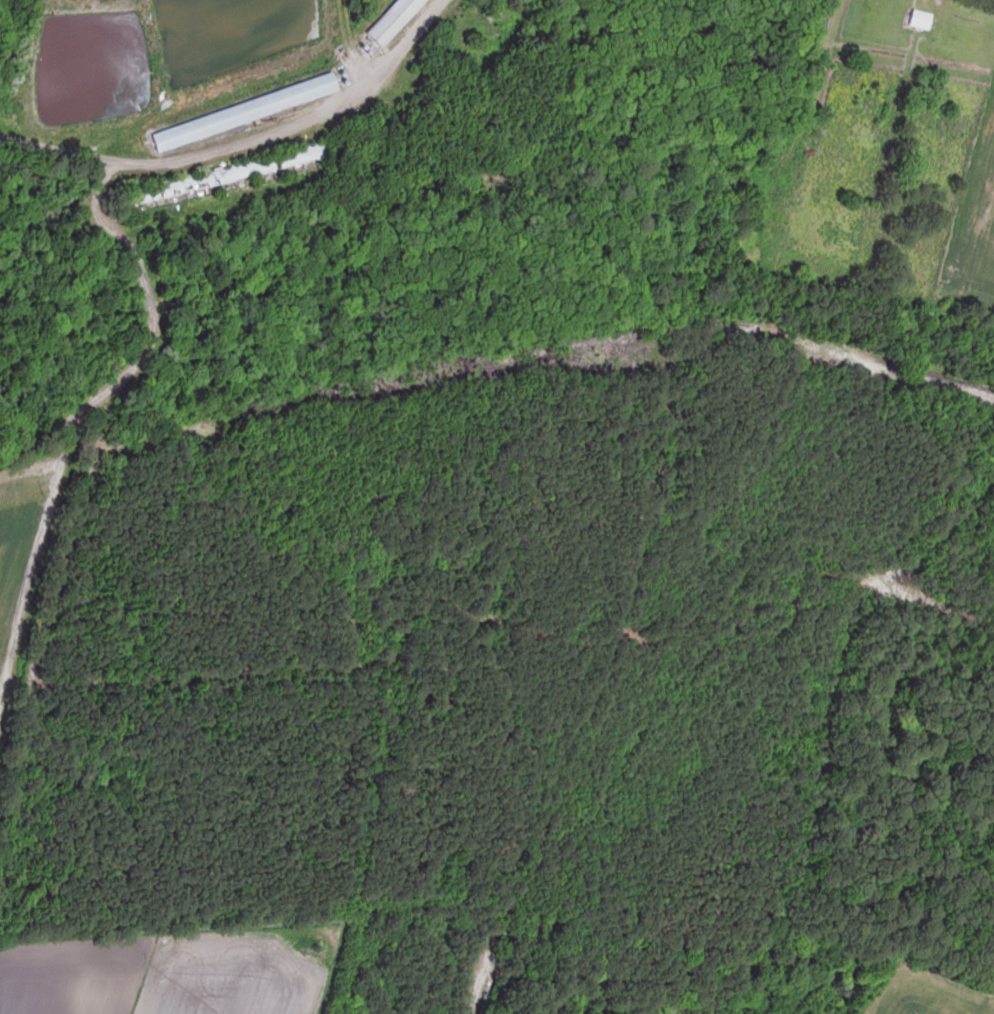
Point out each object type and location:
building: (916, 19)
building: (387, 20)
building: (238, 112)
building: (223, 174)
road: (249, 175)

